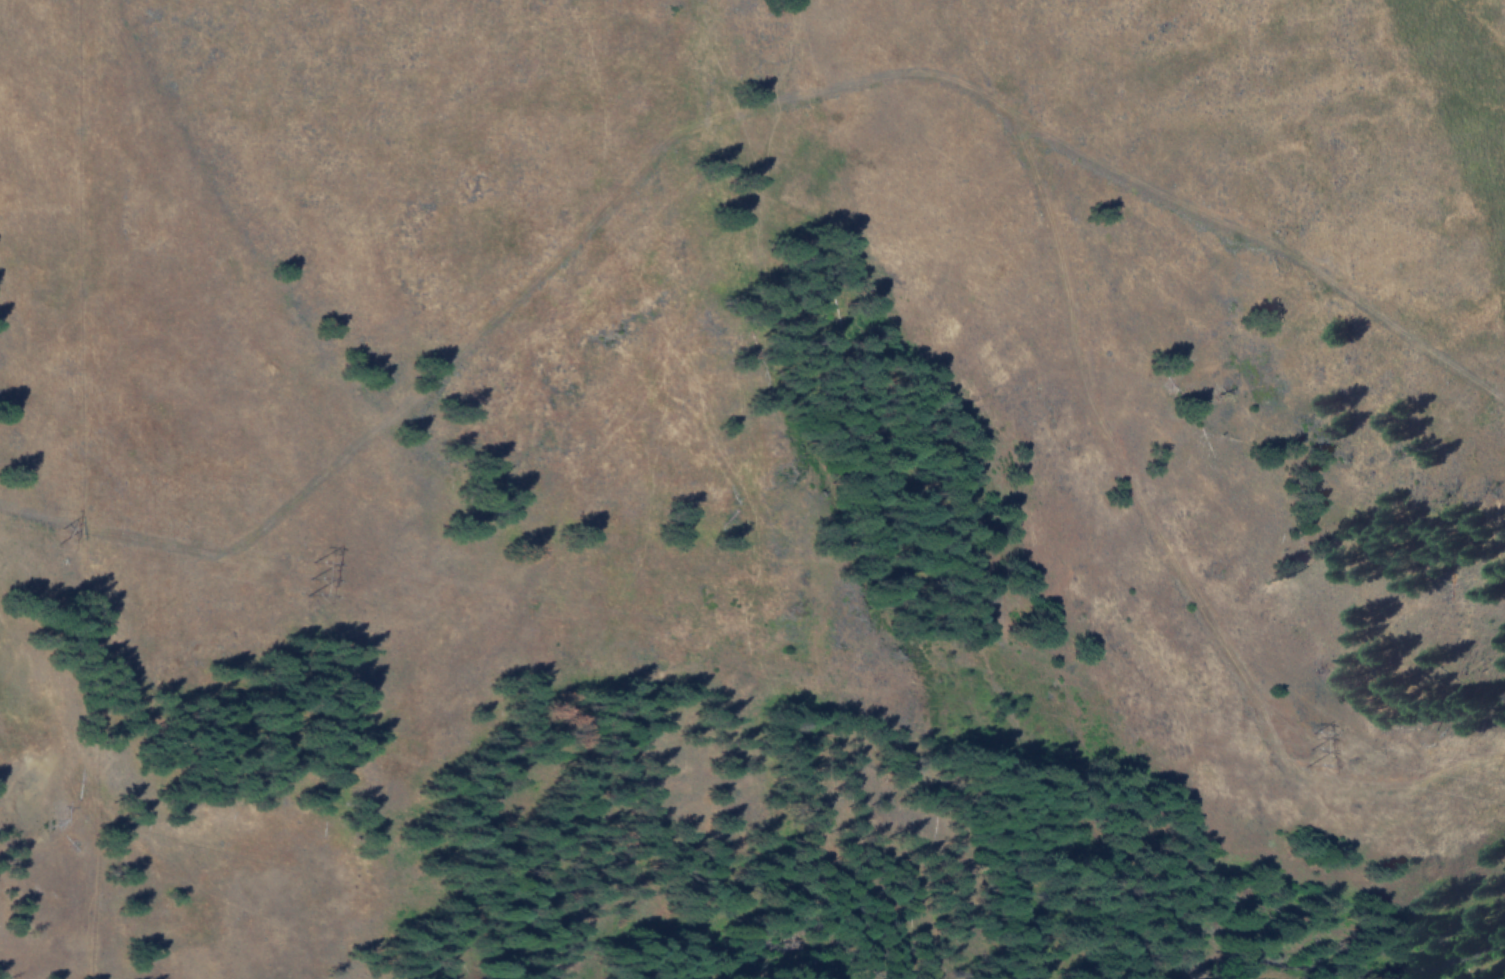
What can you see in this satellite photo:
power tower: (72, 533)
power tower: (313, 585)
power tower: (1313, 749)

